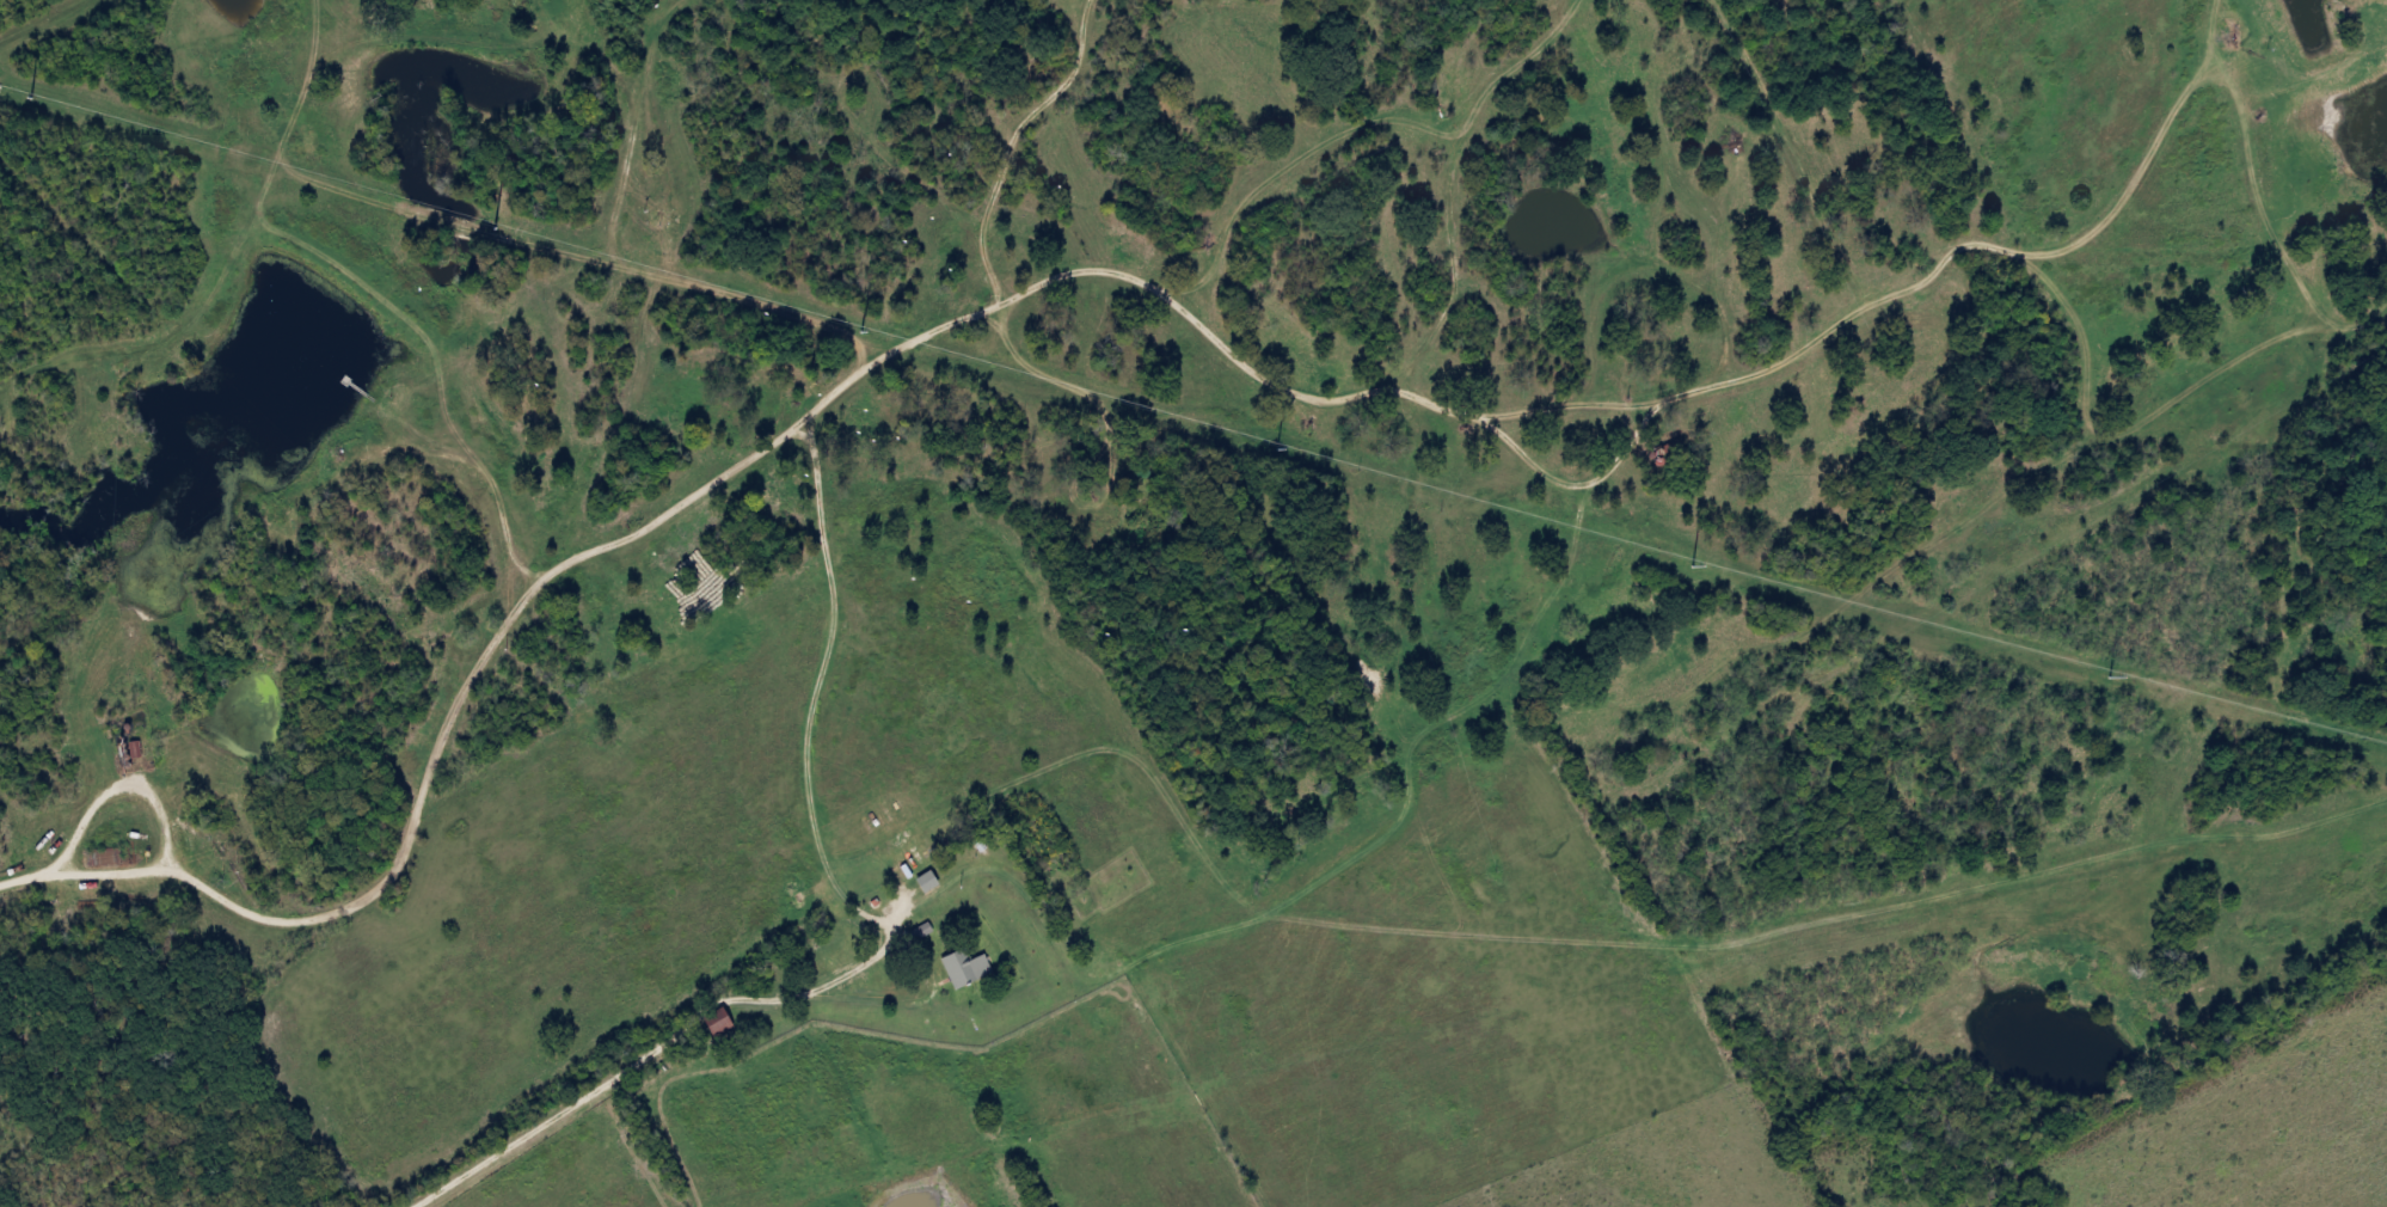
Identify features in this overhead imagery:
building: (133, 748)
road: (166, 815)
building: (203, 838)
road: (22, 877)
building: (961, 967)
road: (929, 972)
building: (713, 1022)
road: (608, 1082)

